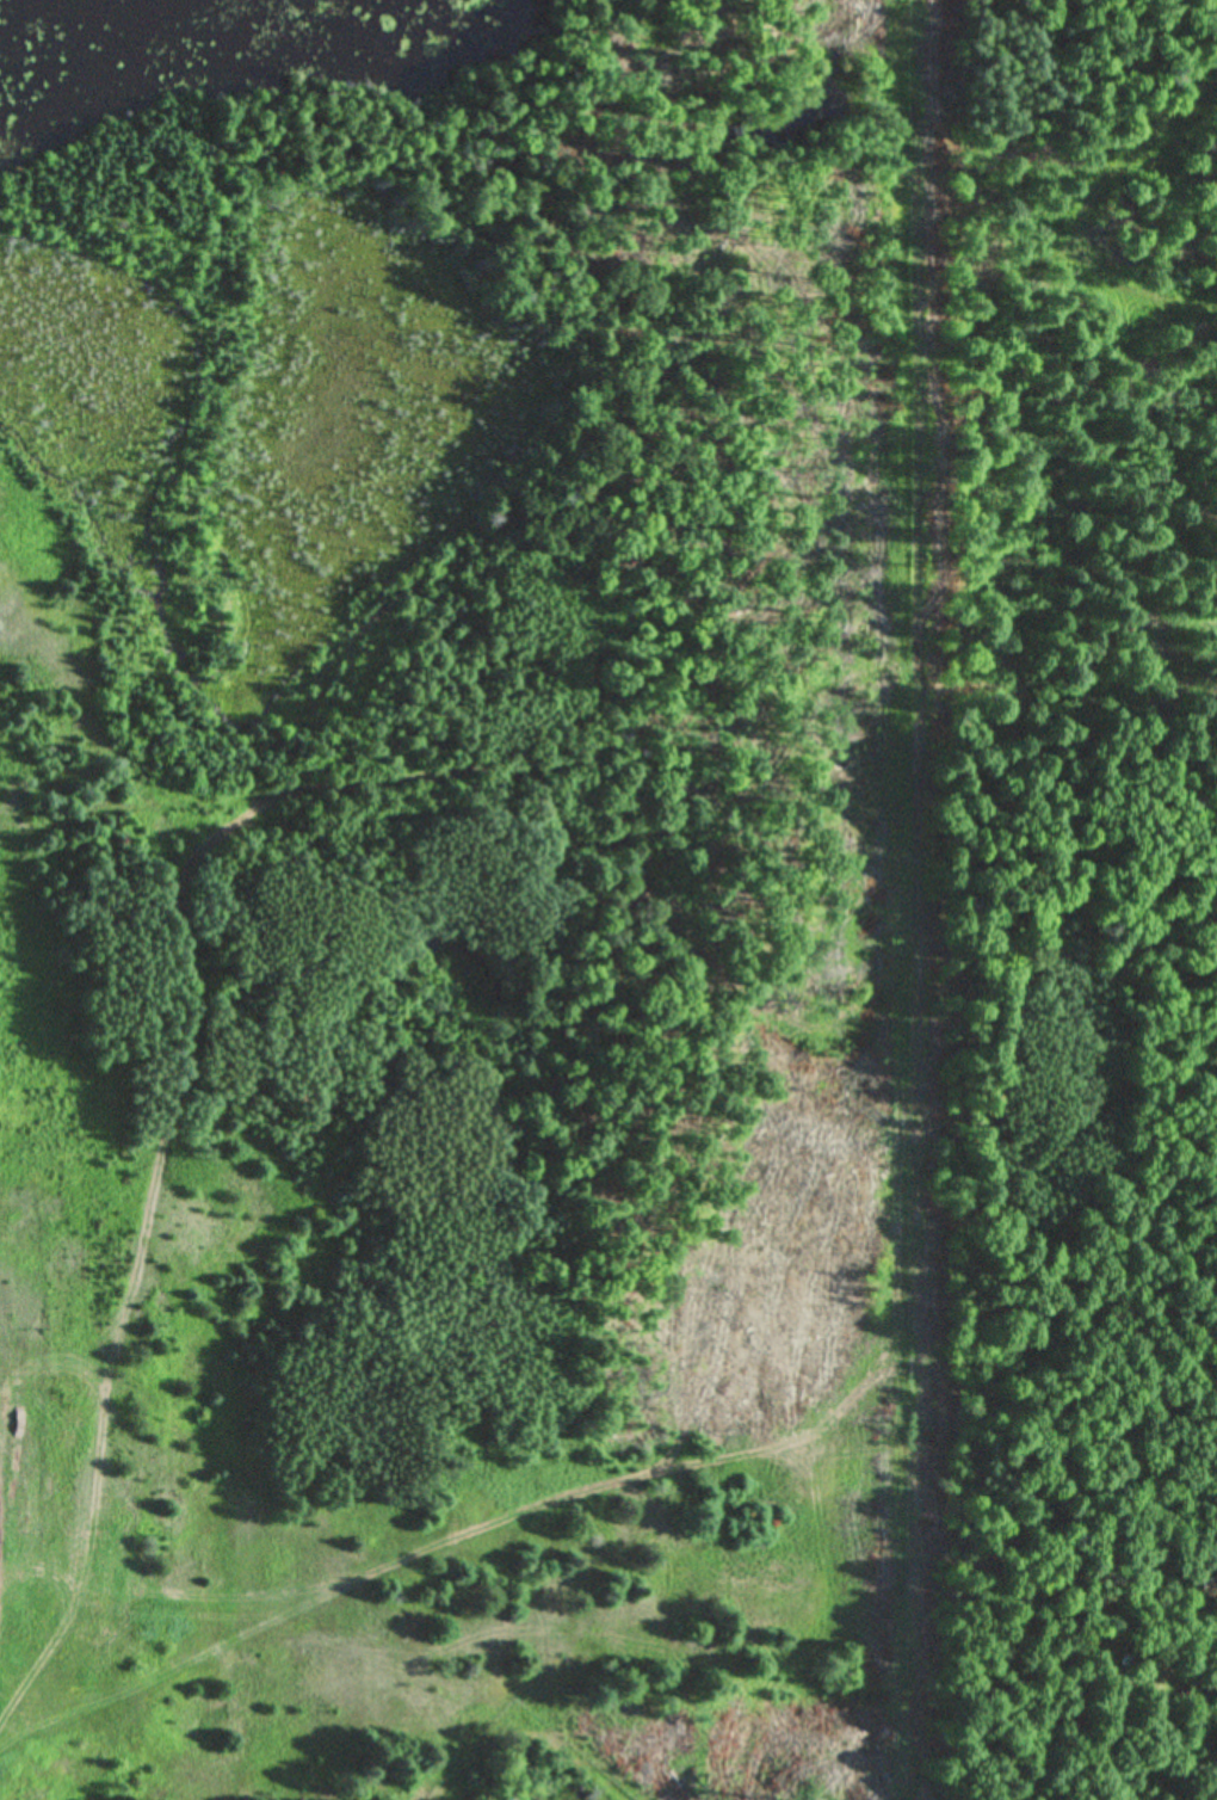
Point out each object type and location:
airport: (476, 925)

